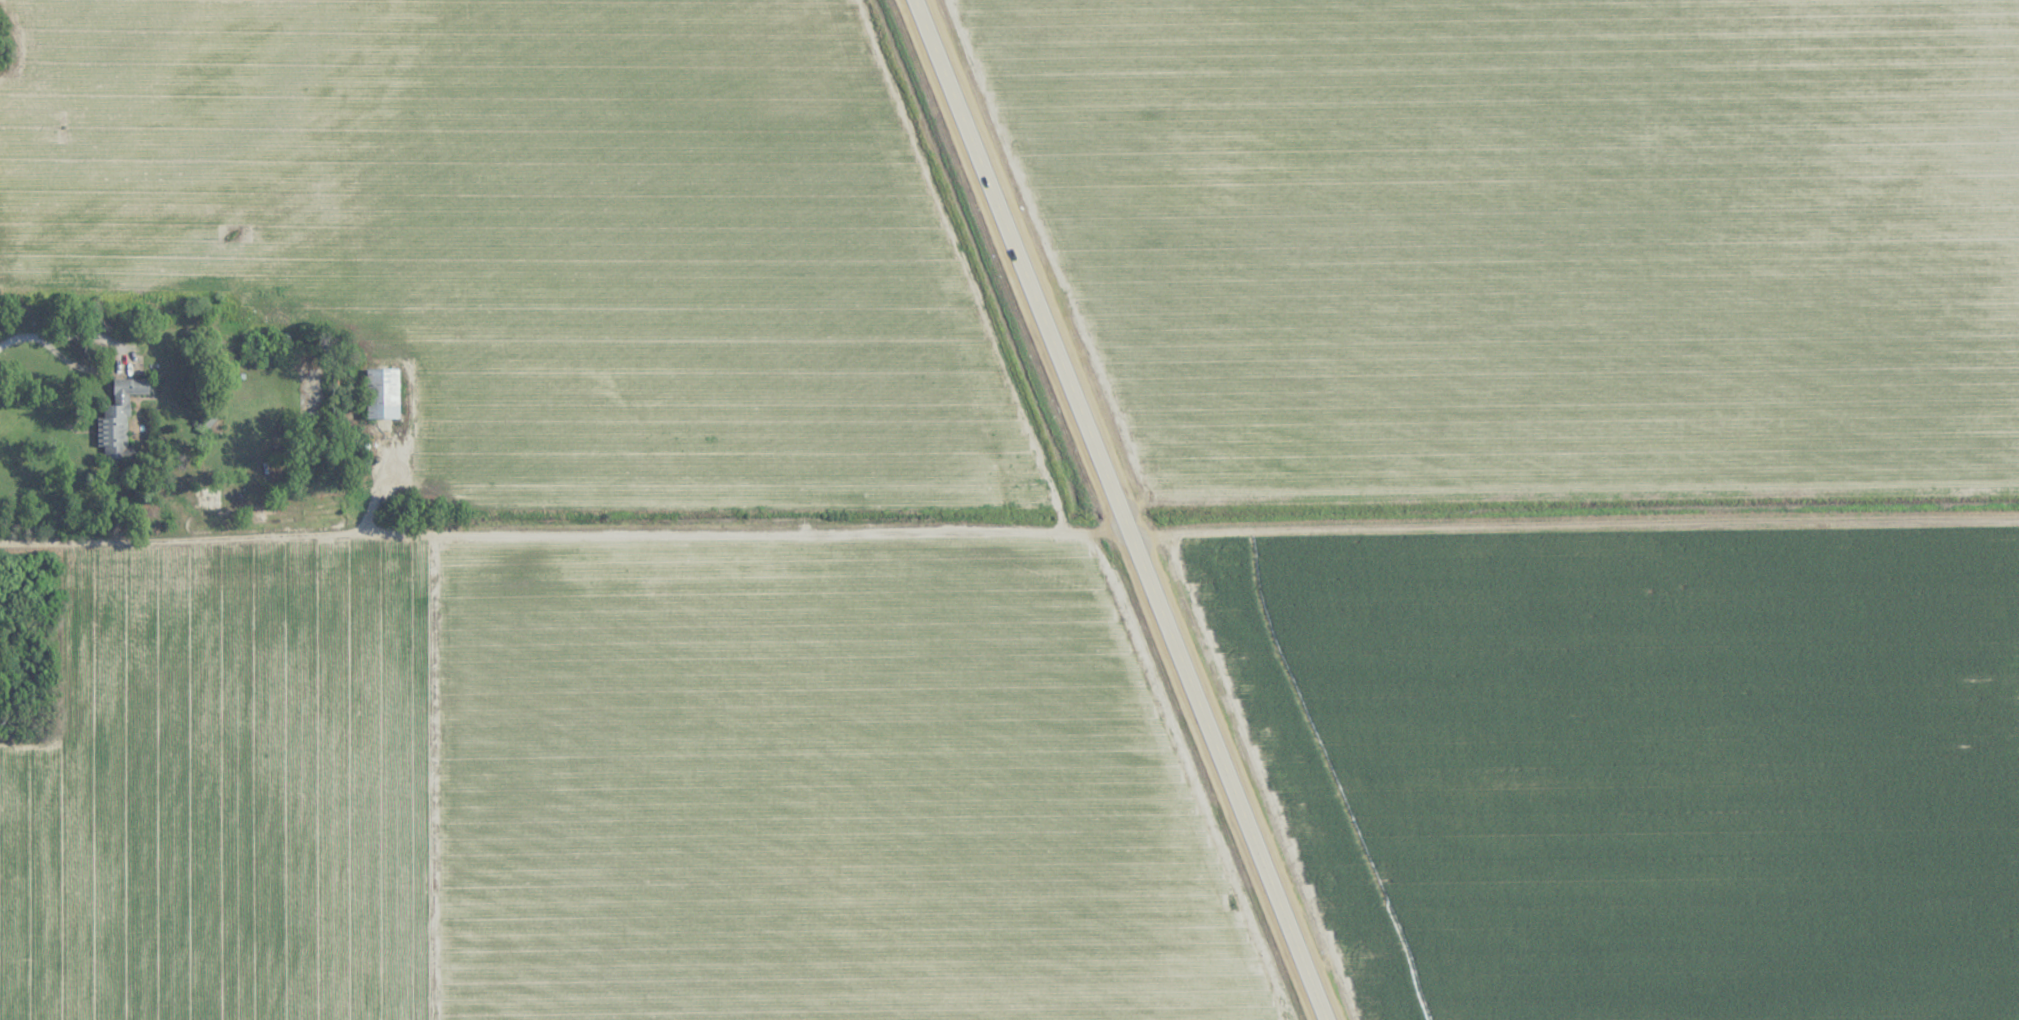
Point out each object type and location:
building: (383, 392)
building: (119, 417)
road: (1117, 510)
road: (562, 534)

